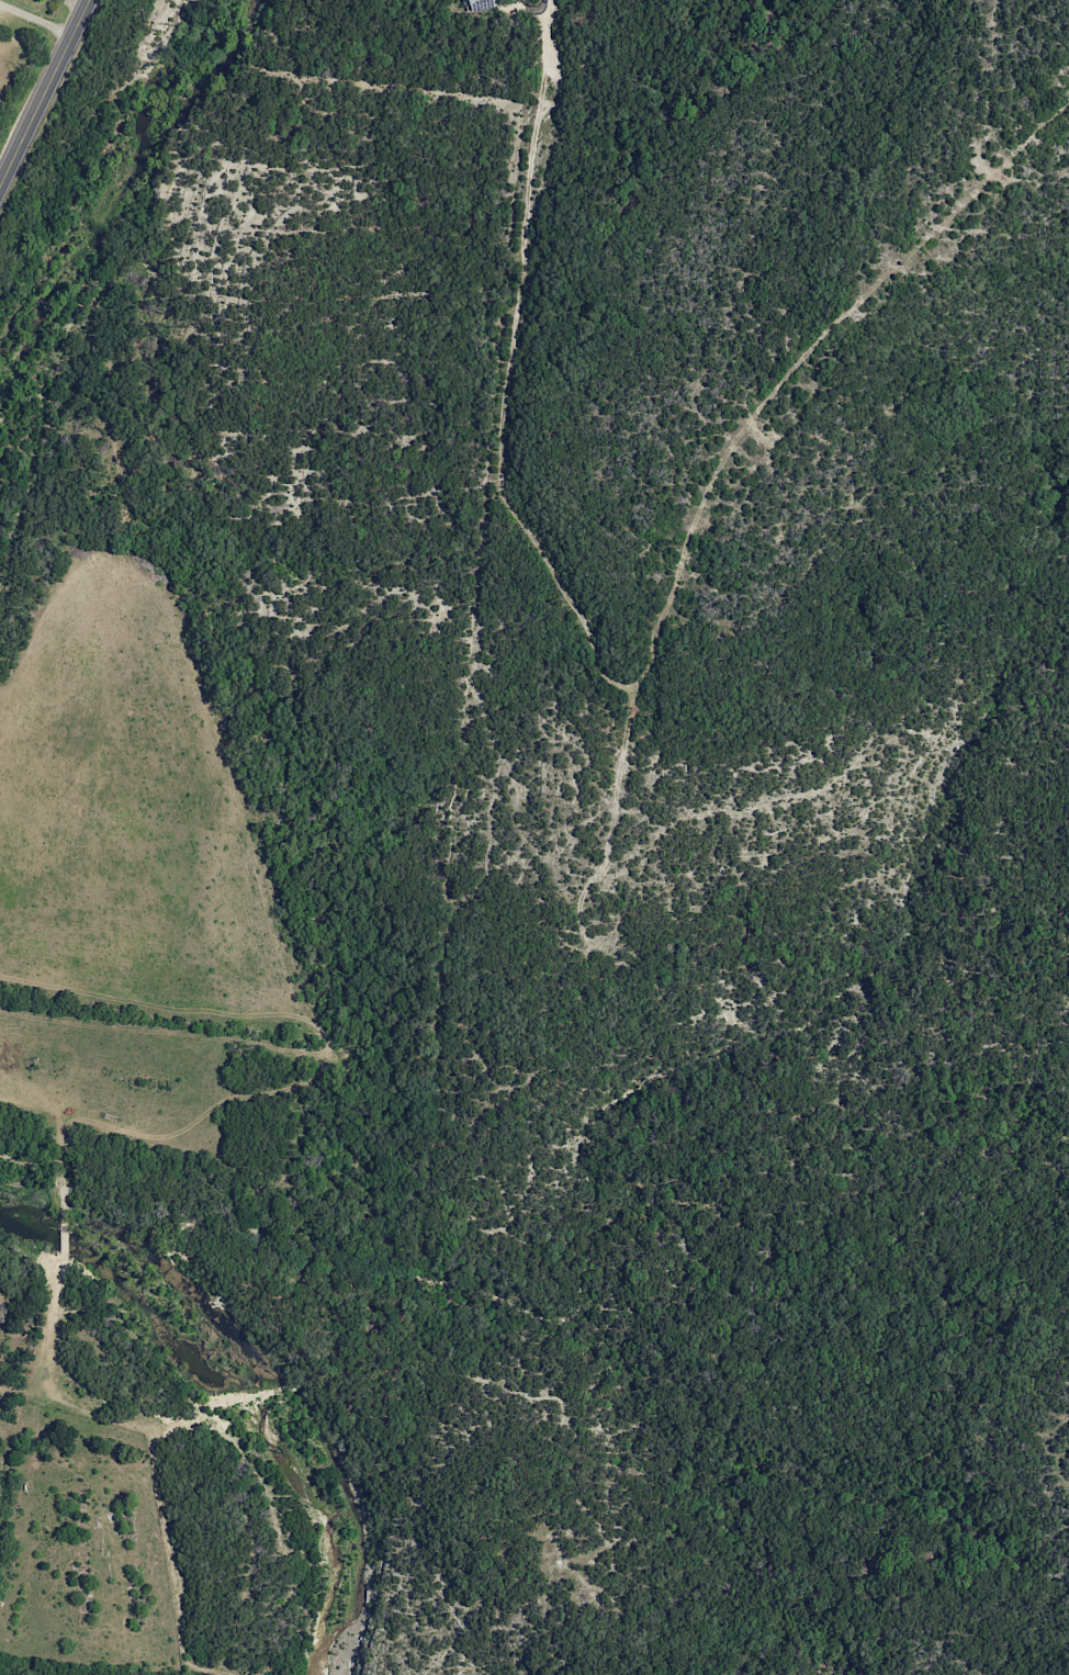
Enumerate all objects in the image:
building: (482, 3)
road: (36, 20)
road: (45, 93)
road: (510, 368)
road: (758, 413)

